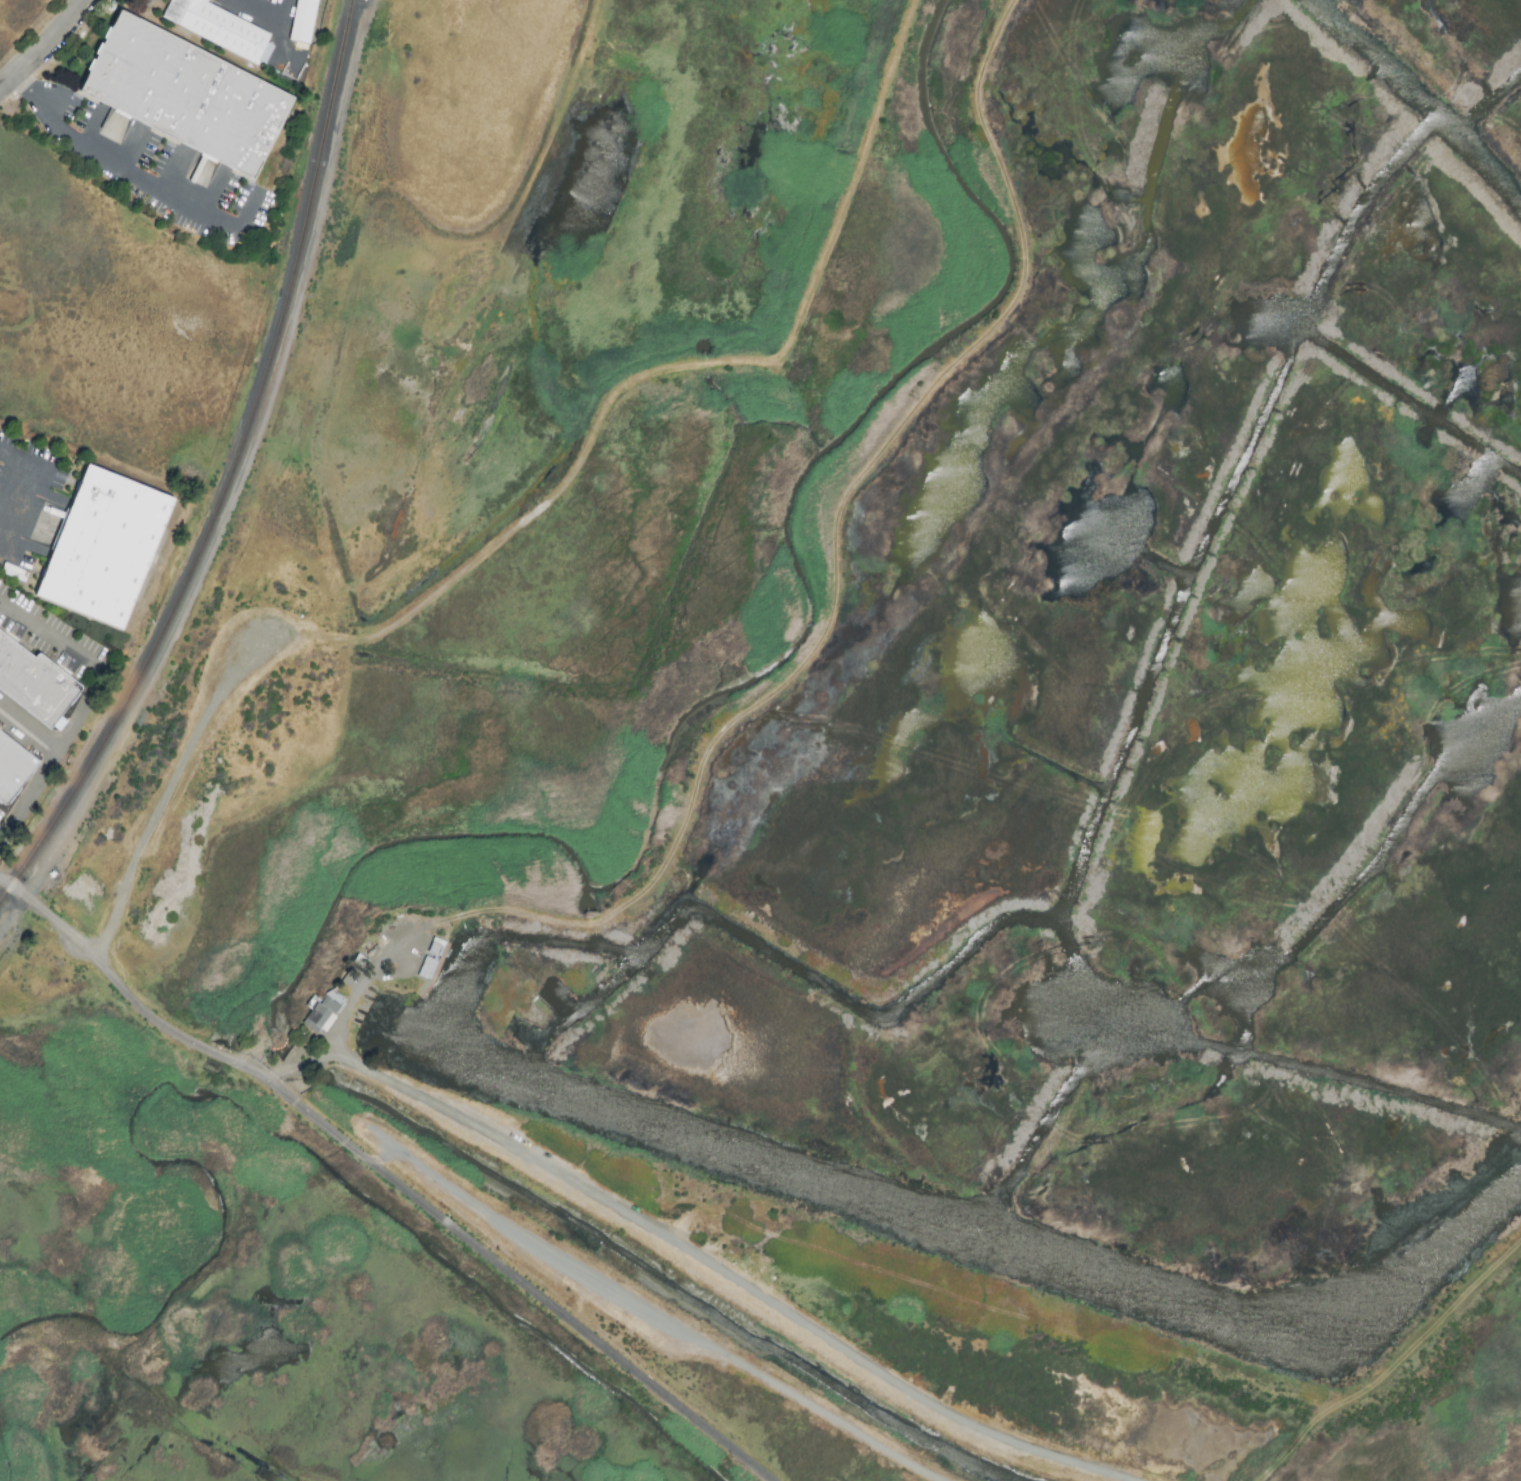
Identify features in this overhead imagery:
road: (272, 7)
building: (306, 22)
building: (222, 30)
road: (44, 49)
road: (22, 92)
building: (187, 97)
road: (92, 127)
road: (130, 148)
road: (175, 170)
road: (149, 177)
road: (216, 192)
road: (705, 364)
railway: (233, 475)
road: (15, 485)
road: (838, 539)
building: (106, 550)
parking lot: (271, 641)
building: (36, 684)
road: (88, 698)
road: (212, 703)
road: (27, 733)
building: (14, 771)
road: (115, 909)
road: (355, 997)
road: (136, 1003)
building: (323, 1011)
road: (726, 1274)
road: (533, 1291)
road: (1397, 1363)

